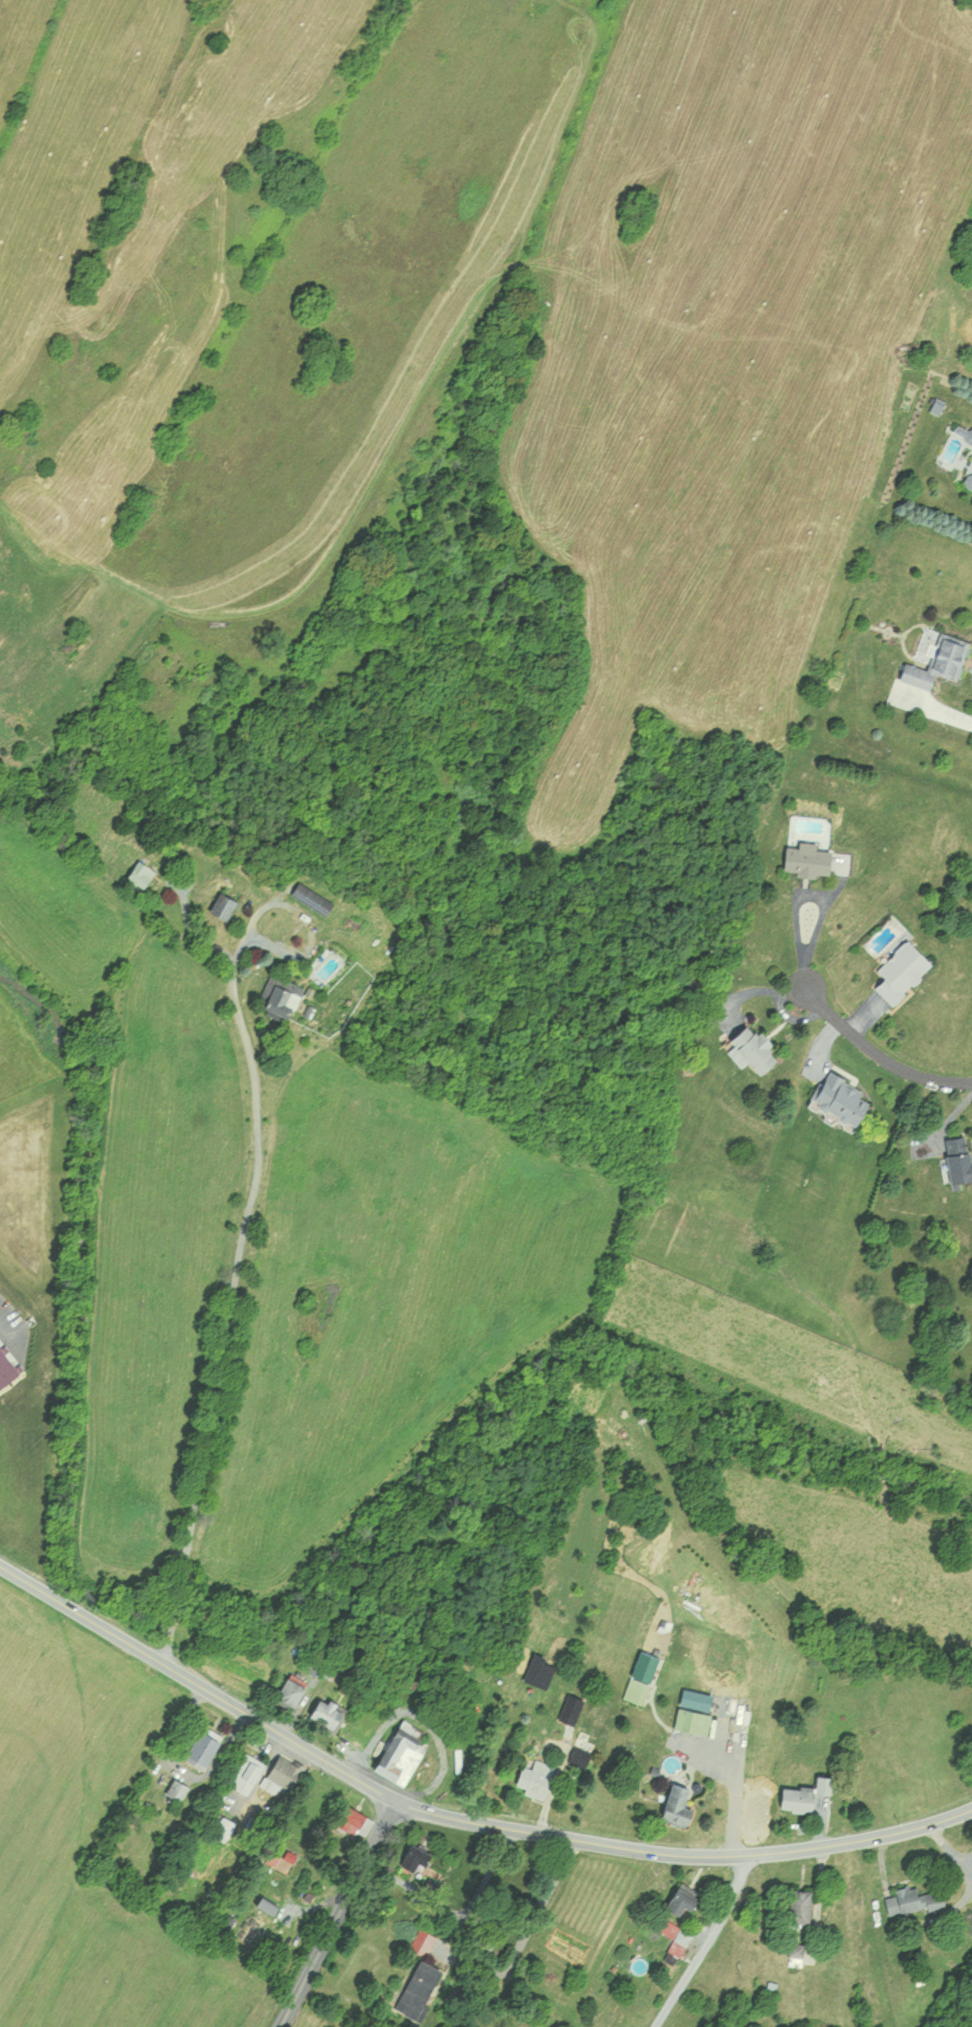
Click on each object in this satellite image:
building: (969, 478)
building: (934, 659)
building: (805, 859)
building: (141, 873)
building: (311, 897)
building: (225, 908)
road: (210, 914)
road: (821, 919)
building: (899, 971)
building: (279, 1001)
building: (752, 1047)
road: (878, 1054)
building: (837, 1099)
building: (955, 1160)
road: (237, 1267)
road: (178, 1604)
road: (172, 1639)
building: (539, 1671)
building: (640, 1677)
building: (571, 1709)
building: (326, 1713)
building: (691, 1721)
building: (202, 1746)
building: (581, 1747)
building: (402, 1751)
building: (285, 1770)
building: (246, 1772)
building: (533, 1778)
building: (177, 1790)
building: (802, 1794)
building: (674, 1805)
road: (456, 1817)
building: (354, 1821)
building: (414, 1860)
road: (488, 1875)
building: (679, 1898)
building: (902, 1898)
road: (542, 1905)
building: (797, 1907)
road: (339, 1913)
building: (676, 1936)
road: (706, 1942)
building: (795, 1954)
building: (418, 1989)

